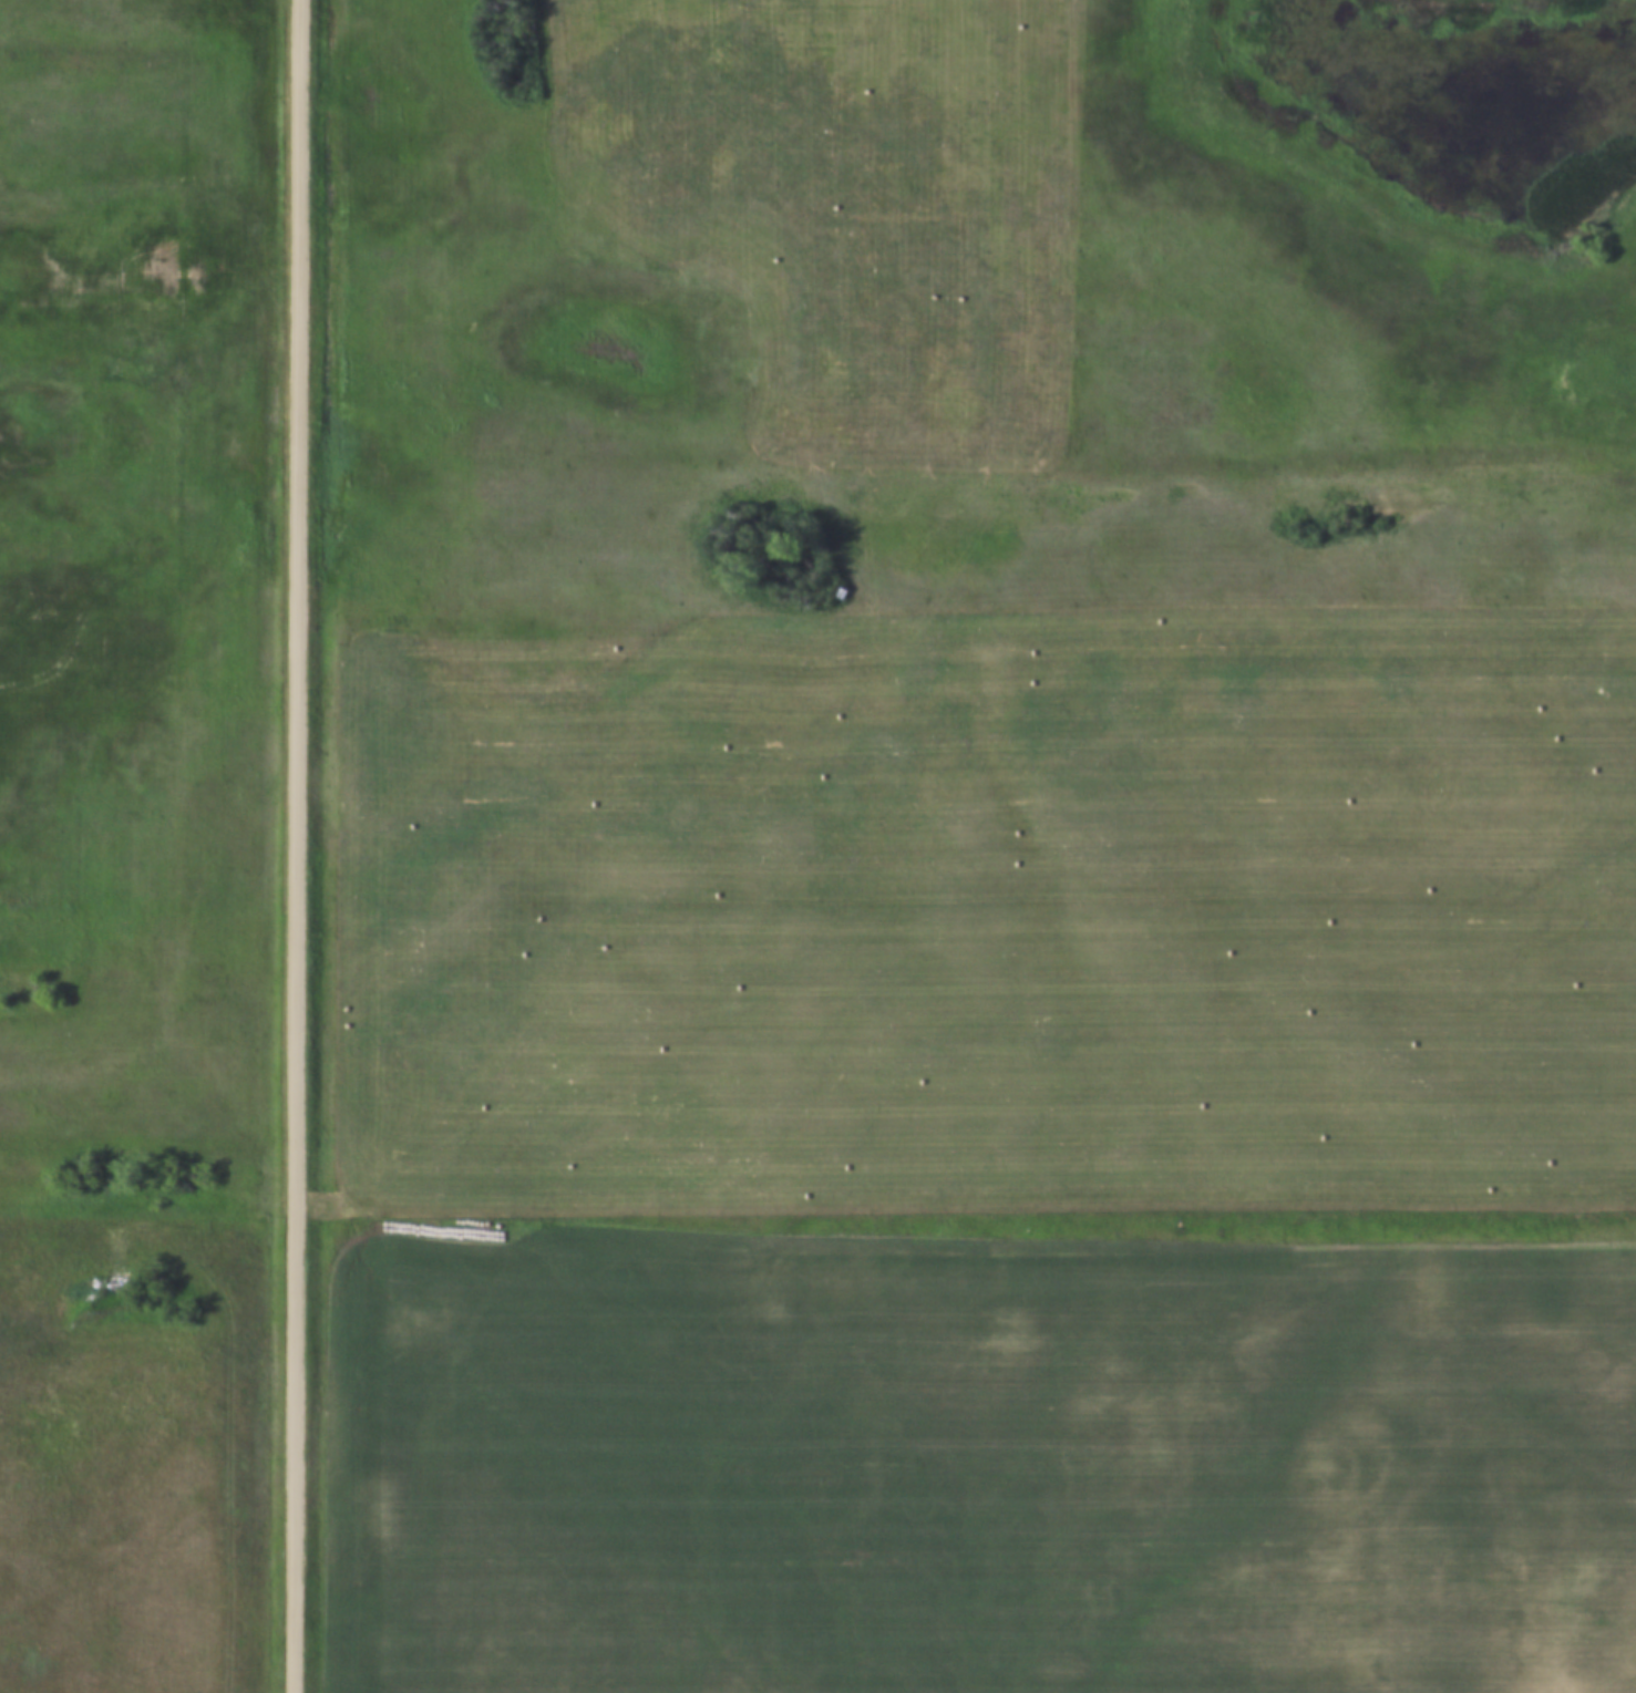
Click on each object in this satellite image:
road: (301, 846)

